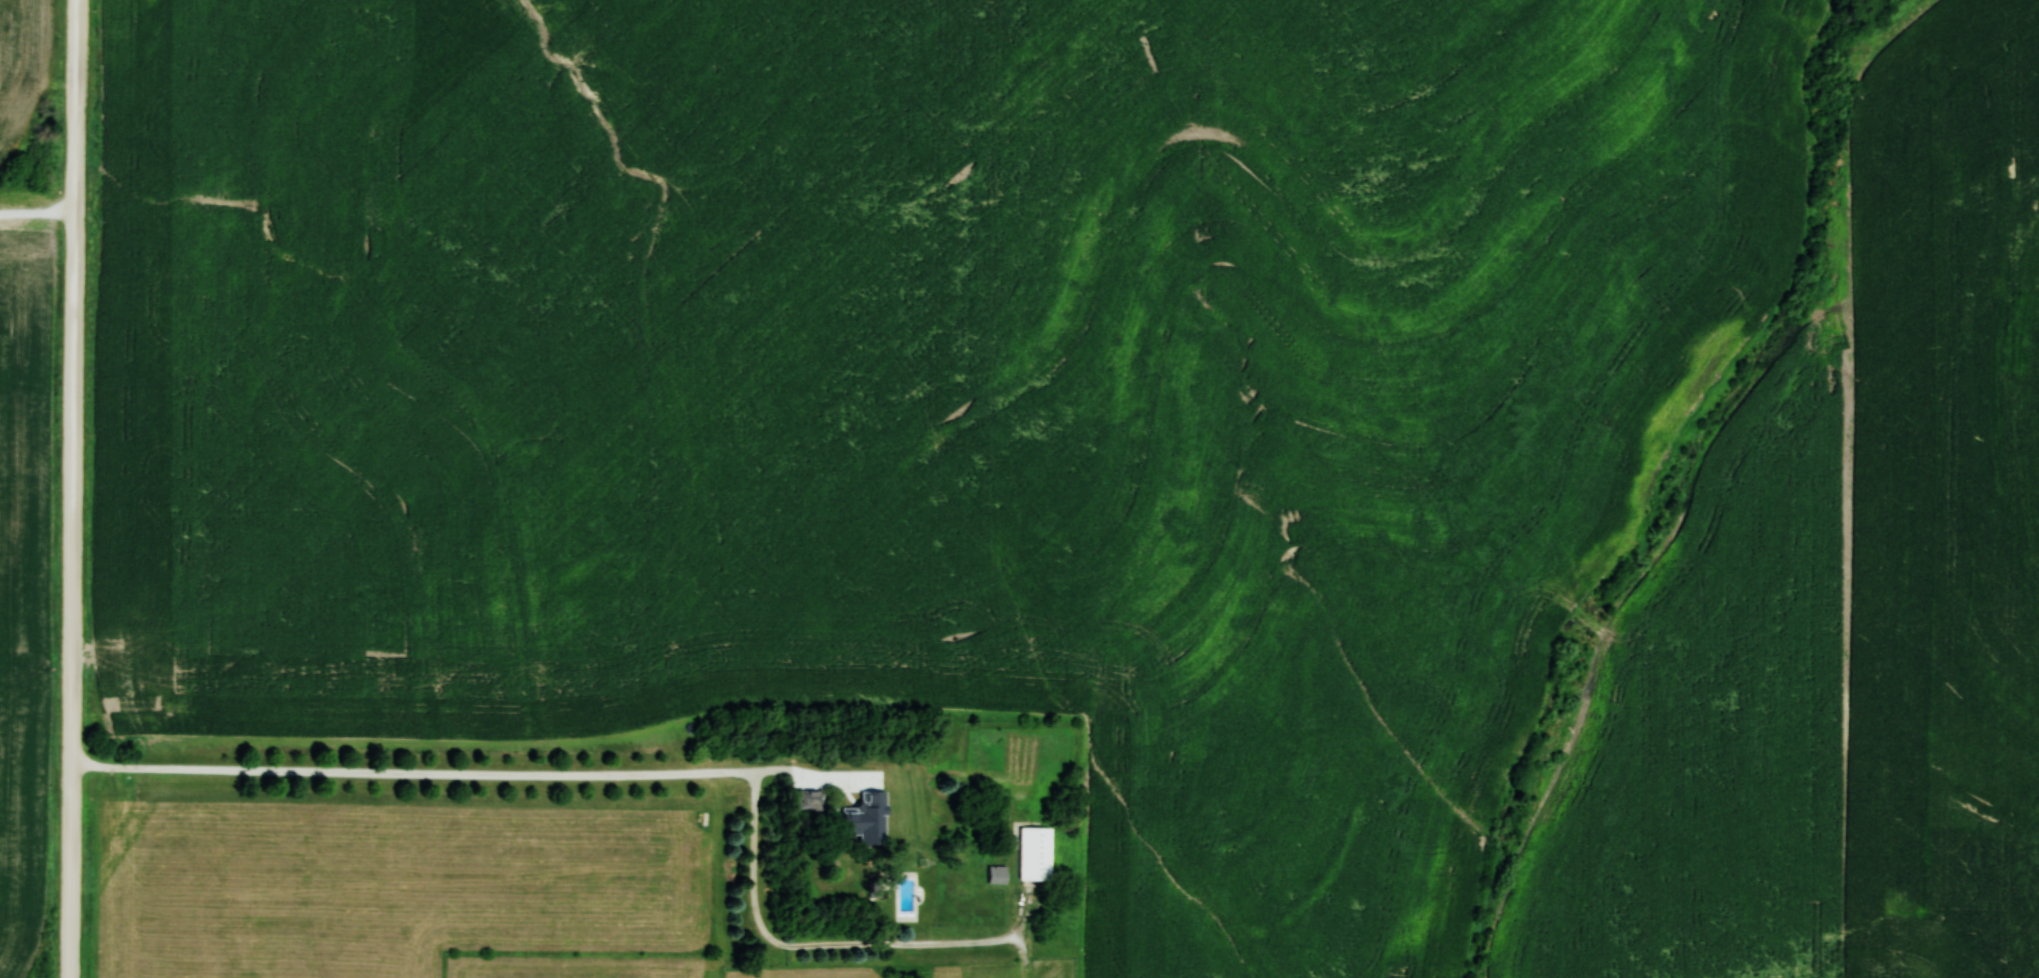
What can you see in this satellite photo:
road: (73, 489)
building: (810, 800)
building: (867, 820)
building: (1037, 853)

